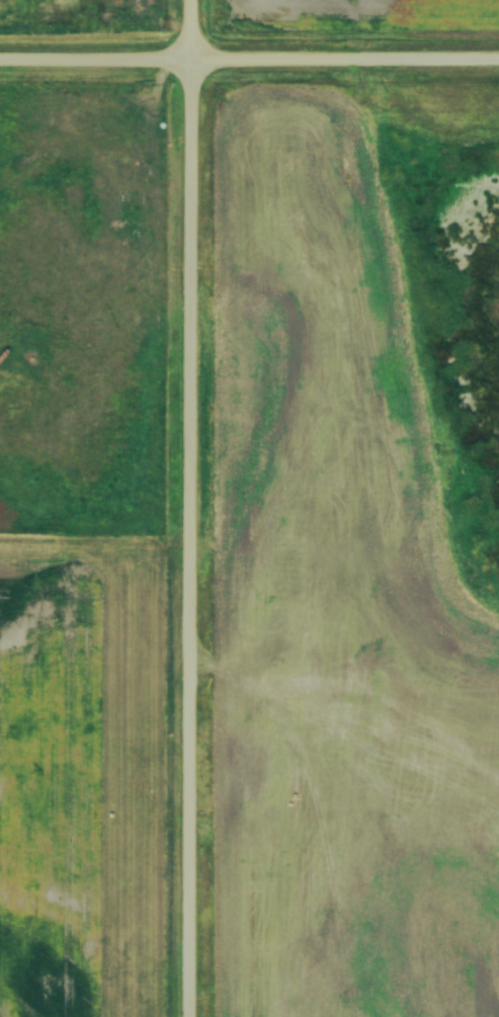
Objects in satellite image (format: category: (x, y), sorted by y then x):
road: (249, 58)
road: (191, 508)

